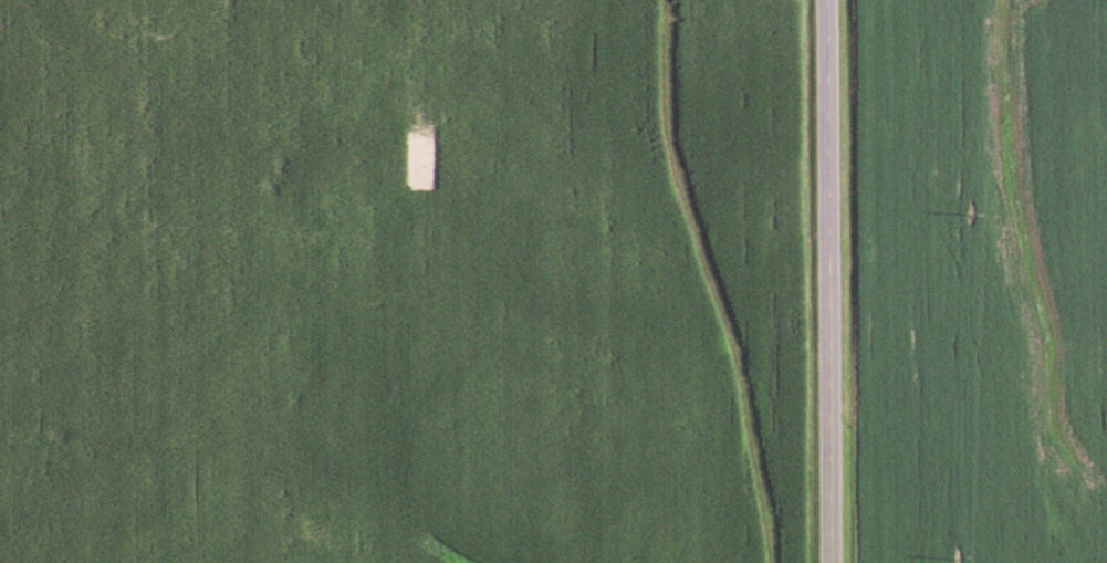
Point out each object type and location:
road: (826, 281)

